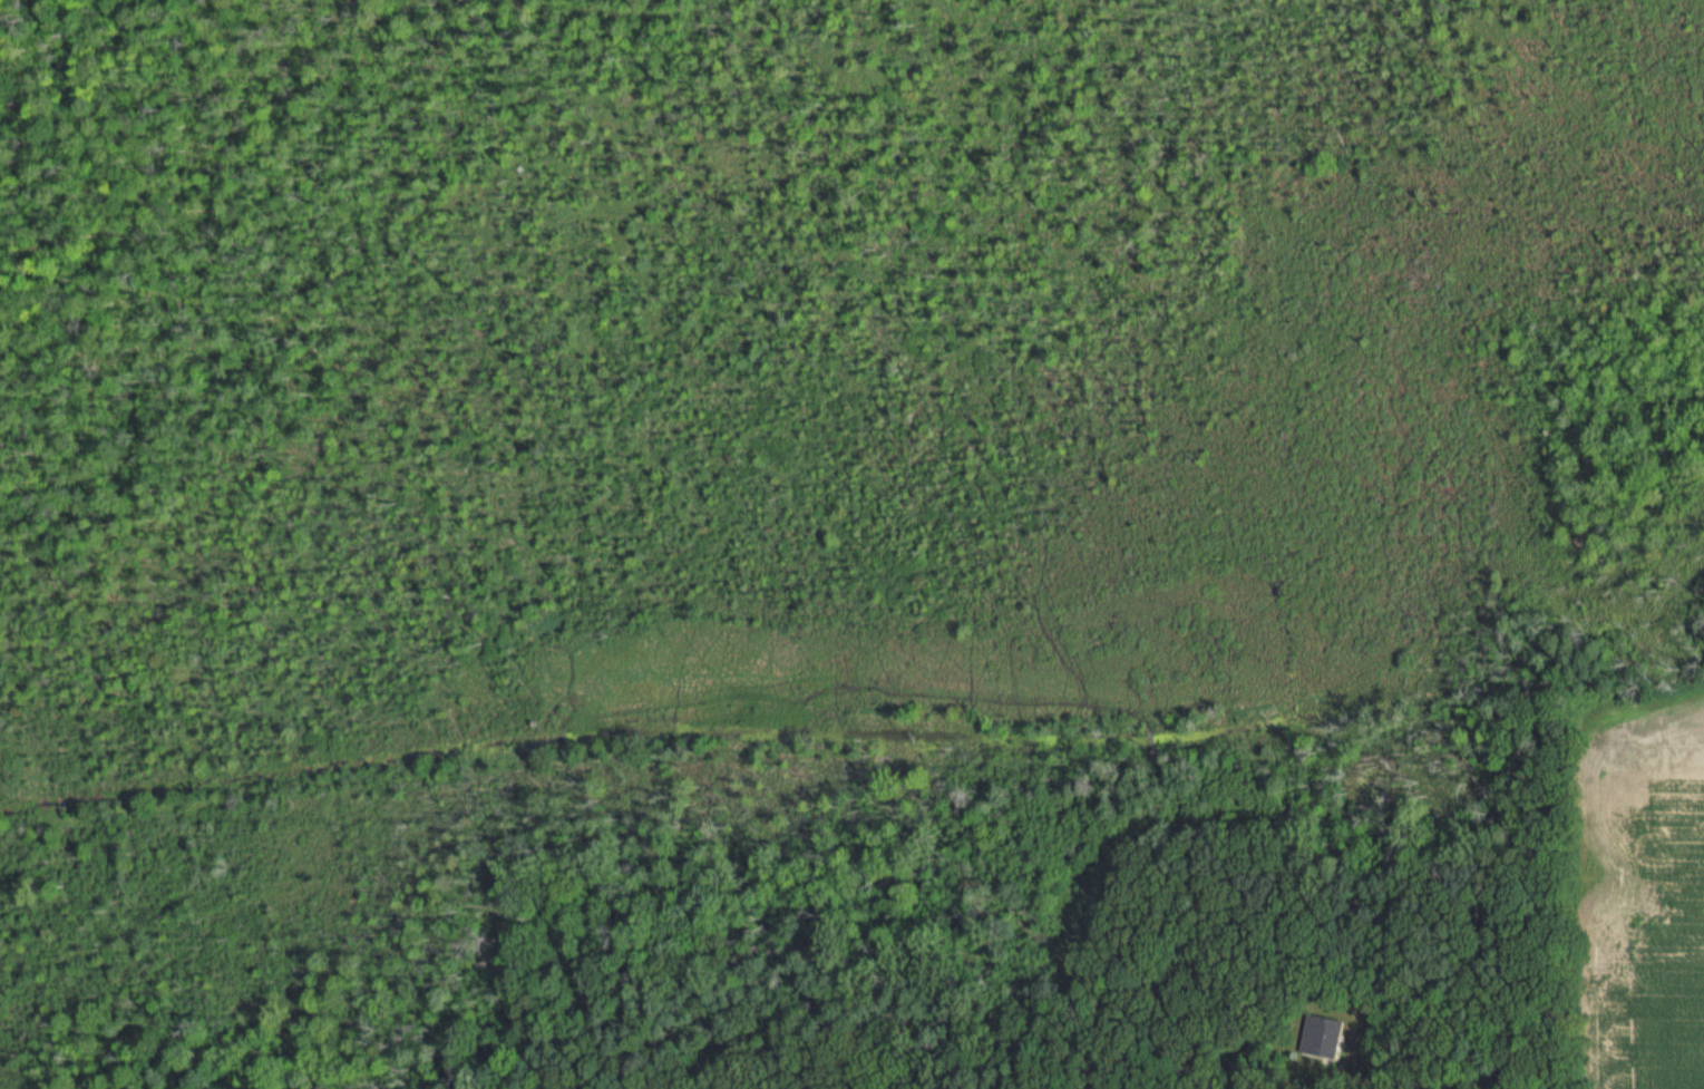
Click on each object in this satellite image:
building: (1317, 1041)

